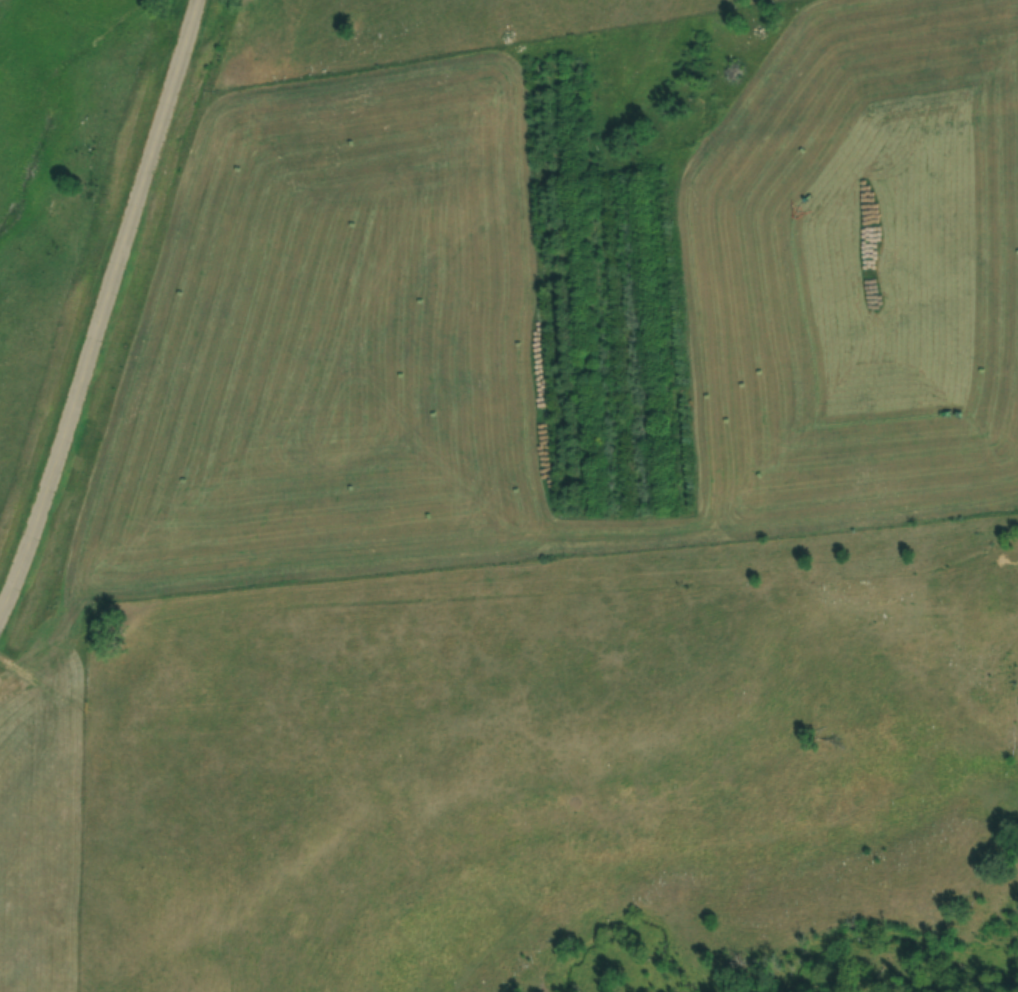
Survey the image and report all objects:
road: (93, 294)

